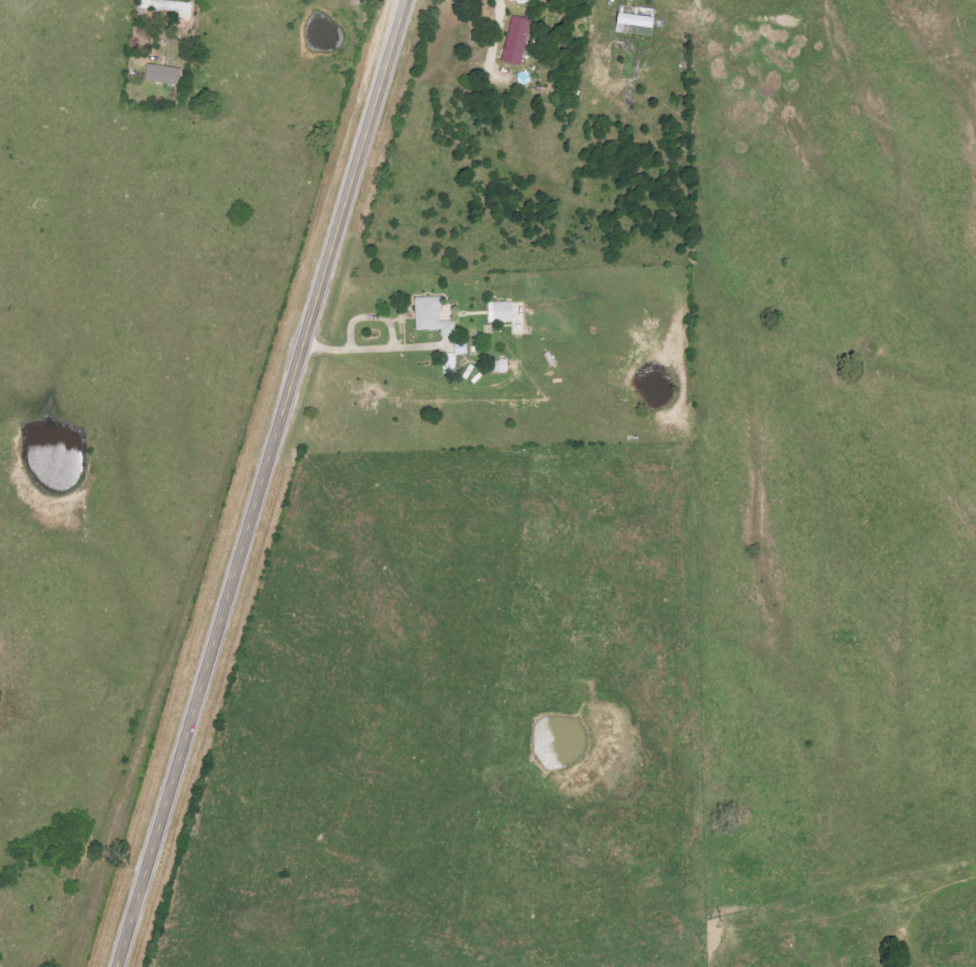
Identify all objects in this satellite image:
building: (166, 8)
building: (515, 41)
building: (161, 75)
building: (498, 313)
building: (431, 317)
building: (459, 348)
building: (448, 364)
building: (497, 367)
road: (263, 483)
power tower: (971, 849)
power tower: (715, 918)

